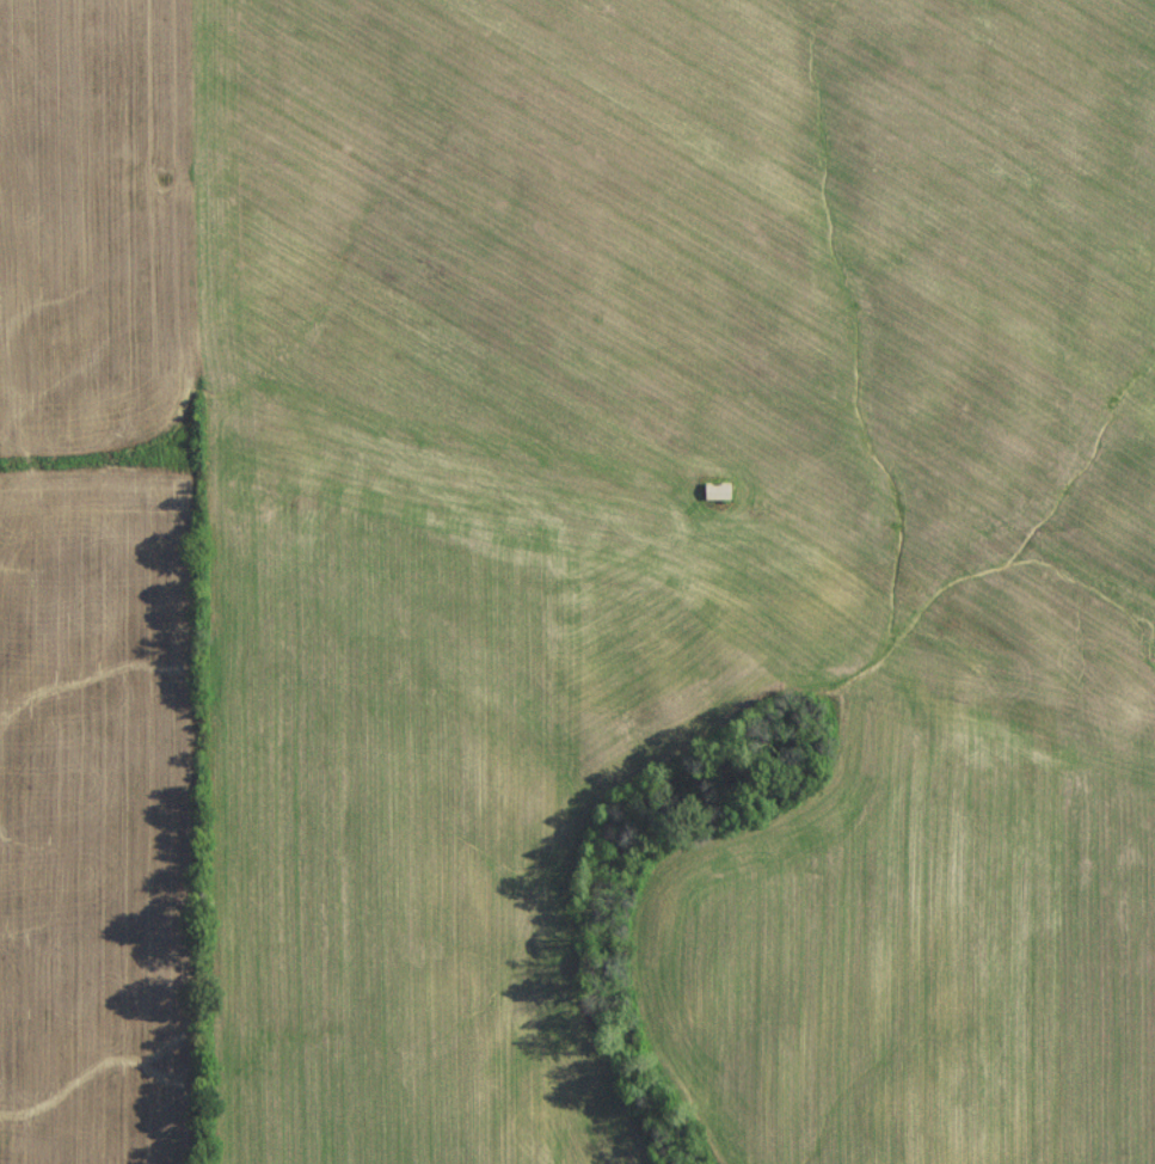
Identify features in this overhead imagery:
building: (717, 497)

